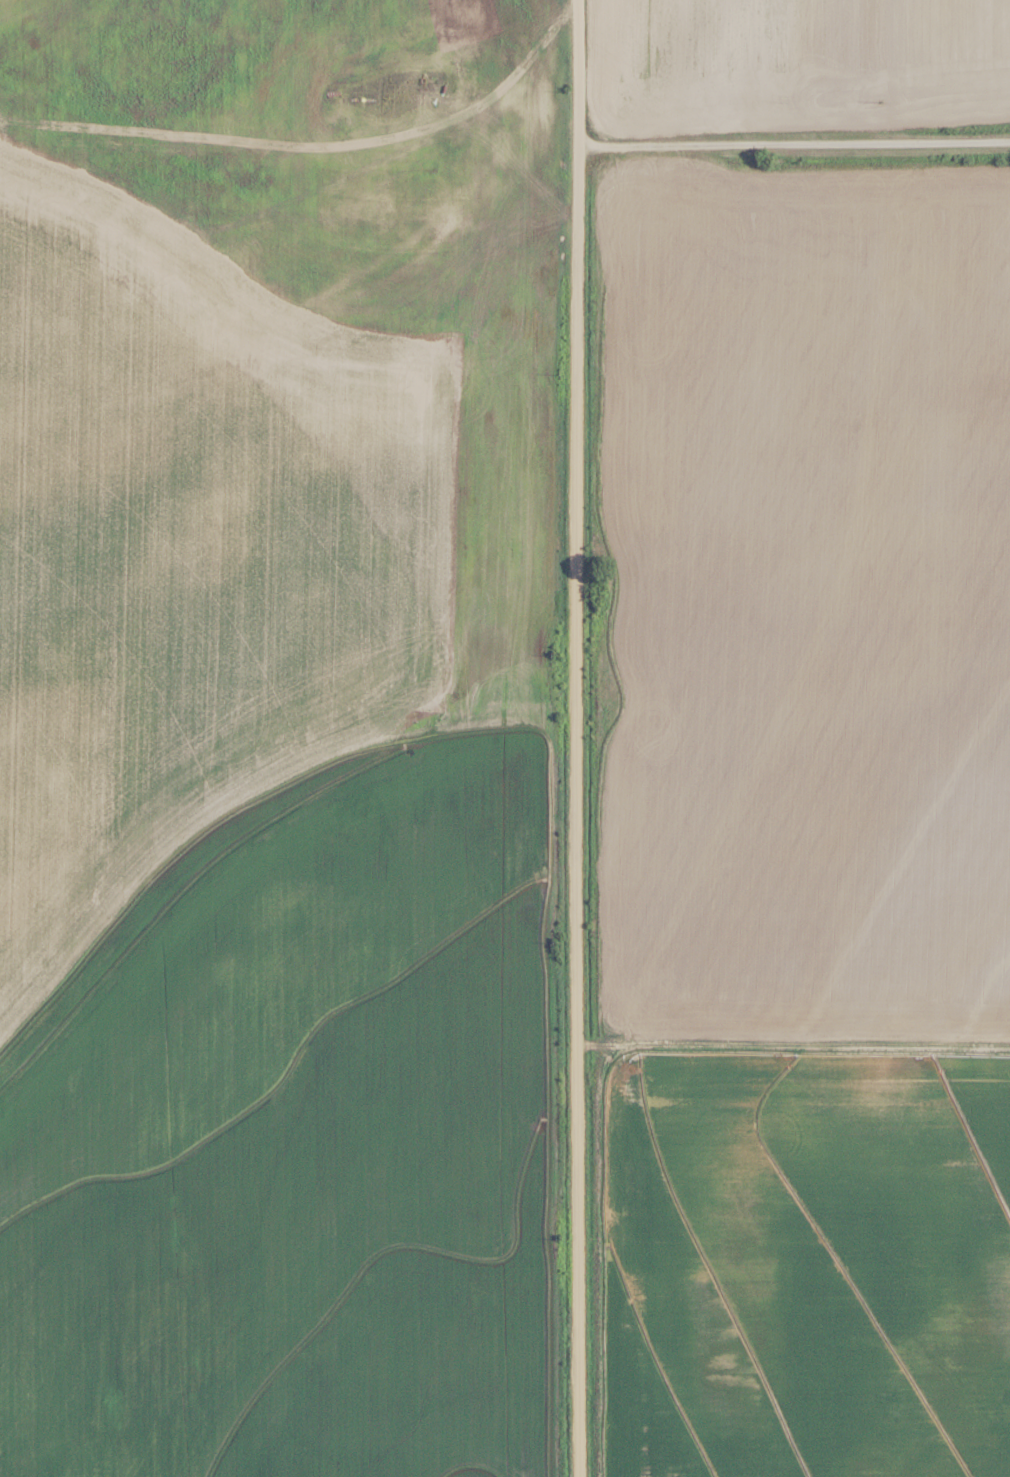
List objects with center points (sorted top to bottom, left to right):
road: (794, 142)
road: (576, 738)

